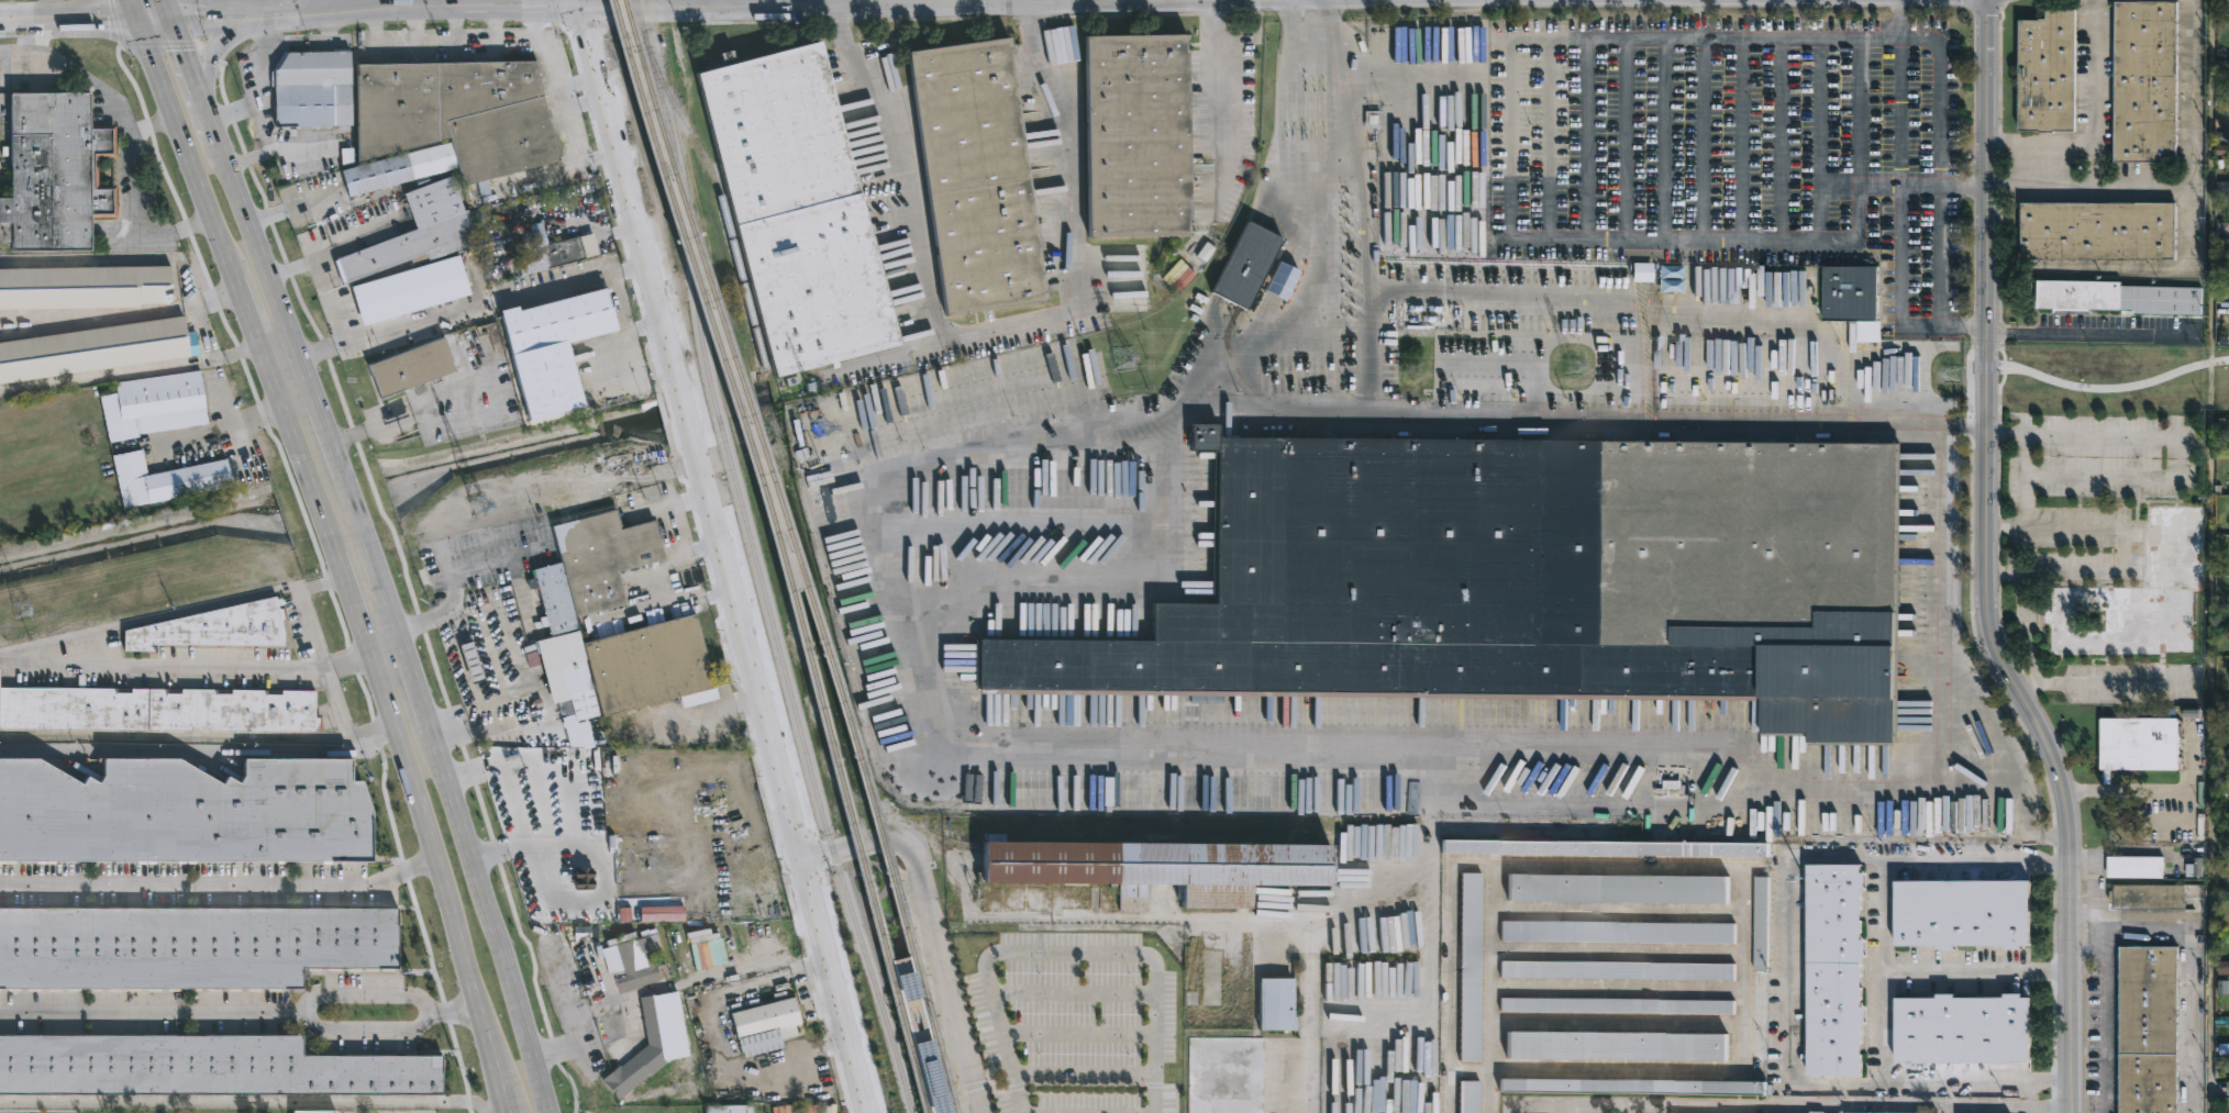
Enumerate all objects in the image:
road: (831, 1)
road: (2007, 1)
road: (586, 2)
road: (241, 5)
traffic signals: (587, 5)
road: (459, 7)
road: (51, 8)
road: (84, 8)
road: (132, 8)
road: (165, 8)
road: (328, 10)
road: (245, 11)
traffic signals: (196, 14)
road: (84, 16)
traffic signals: (107, 16)
road: (1698, 18)
road: (115, 22)
road: (190, 22)
road: (535, 30)
road: (414, 31)
road: (497, 31)
road: (456, 32)
road: (235, 33)
road: (375, 33)
road: (159, 44)
traffic signals: (184, 53)
road: (209, 55)
road: (191, 71)
building: (2045, 71)
road: (576, 79)
building: (2148, 80)
road: (259, 87)
building: (310, 89)
road: (1224, 89)
road: (1938, 93)
road: (583, 109)
road: (1857, 110)
road: (1899, 110)
road: (233, 111)
building: (446, 122)
road: (2095, 123)
road: (176, 125)
road: (154, 126)
building: (1135, 135)
road: (1627, 137)
road: (1665, 137)
road: (1703, 137)
road: (1741, 137)
road: (1781, 137)
road: (1819, 137)
road: (1511, 138)
road: (1548, 138)
road: (1586, 138)
road: (133, 143)
road: (303, 148)
parking lot: (1722, 148)
road: (249, 157)
road: (2096, 160)
road: (573, 165)
building: (52, 171)
building: (975, 176)
road: (2087, 181)
road: (1839, 183)
road: (2000, 183)
road: (1477, 194)
road: (292, 208)
building: (795, 209)
building: (2099, 230)
road: (2185, 231)
building: (415, 233)
road: (1321, 233)
road: (254, 244)
building: (548, 252)
road: (1938, 254)
road: (198, 257)
road: (284, 263)
building: (1244, 268)
building: (1642, 271)
building: (1670, 278)
road: (324, 279)
building: (82, 287)
building: (417, 288)
road: (1899, 296)
building: (2119, 297)
building: (1852, 298)
road: (242, 303)
road: (618, 303)
road: (453, 313)
building: (1412, 319)
road: (647, 327)
road: (990, 329)
road: (204, 332)
road: (2086, 333)
building: (550, 347)
building: (95, 348)
road: (889, 354)
power tower: (1121, 360)
road: (281, 365)
building: (409, 367)
power tower: (1573, 368)
power tower: (1954, 375)
road: (611, 379)
road: (303, 381)
road: (2109, 388)
road: (275, 391)
building: (151, 404)
road: (297, 408)
railway: (721, 419)
road: (215, 428)
road: (1955, 428)
road: (698, 431)
power tower: (820, 431)
road: (322, 433)
road: (291, 438)
road: (2030, 464)
road: (335, 470)
building: (163, 480)
railway: (768, 481)
road: (370, 487)
road: (314, 497)
road: (347, 501)
power tower: (478, 507)
road: (300, 509)
road: (1999, 531)
road: (2121, 536)
railway: (776, 554)
road: (2210, 556)
road: (735, 557)
road: (1989, 565)
road: (2006, 571)
building: (586, 578)
building: (1528, 580)
road: (377, 583)
road: (320, 588)
road: (346, 591)
building: (2137, 600)
power tower: (21, 609)
road: (141, 620)
building: (212, 628)
road: (2026, 628)
road: (382, 648)
building: (492, 656)
gas station: (492, 656)
building: (473, 663)
gas station: (473, 663)
building: (648, 667)
road: (2104, 683)
road: (544, 704)
road: (418, 710)
road: (710, 710)
building: (157, 711)
building: (579, 713)
road: (445, 721)
road: (451, 738)
building: (2141, 745)
road: (200, 753)
road: (1727, 763)
road: (2023, 783)
road: (476, 789)
road: (2125, 791)
building: (186, 815)
road: (392, 828)
road: (421, 828)
building: (1606, 849)
railway: (833, 856)
building: (2134, 867)
building: (1157, 871)
road: (2094, 876)
road: (218, 888)
building: (1618, 889)
building: (2148, 897)
road: (2095, 913)
building: (1965, 915)
road: (930, 931)
building: (1617, 931)
road: (2142, 932)
road: (495, 944)
building: (187, 946)
railway: (900, 953)
road: (1067, 954)
railway: (900, 955)
building: (635, 960)
building: (1470, 966)
road: (1978, 968)
building: (1616, 969)
building: (1761, 969)
building: (1837, 969)
road: (1883, 971)
road: (1786, 977)
road: (839, 986)
railway: (877, 994)
road: (1074, 994)
building: (1275, 1002)
building: (1617, 1004)
building: (1216, 1005)
road: (452, 1008)
road: (152, 1012)
road: (304, 1013)
parking lot: (1076, 1023)
building: (765, 1024)
building: (1965, 1027)
building: (2150, 1028)
road: (1078, 1035)
railway: (931, 1038)
building: (1617, 1044)
building: (648, 1045)
road: (492, 1058)
building: (200, 1066)
building: (1224, 1075)
road: (1084, 1076)
road: (1285, 1084)
building: (1633, 1084)
road: (572, 1086)
building: (2228, 1087)
building: (1468, 1097)
road: (249, 1101)
road: (1788, 1105)
building: (728, 1109)
road: (1950, 1109)
road: (2031, 1109)
building: (311, 1112)
building: (1878, 1112)

